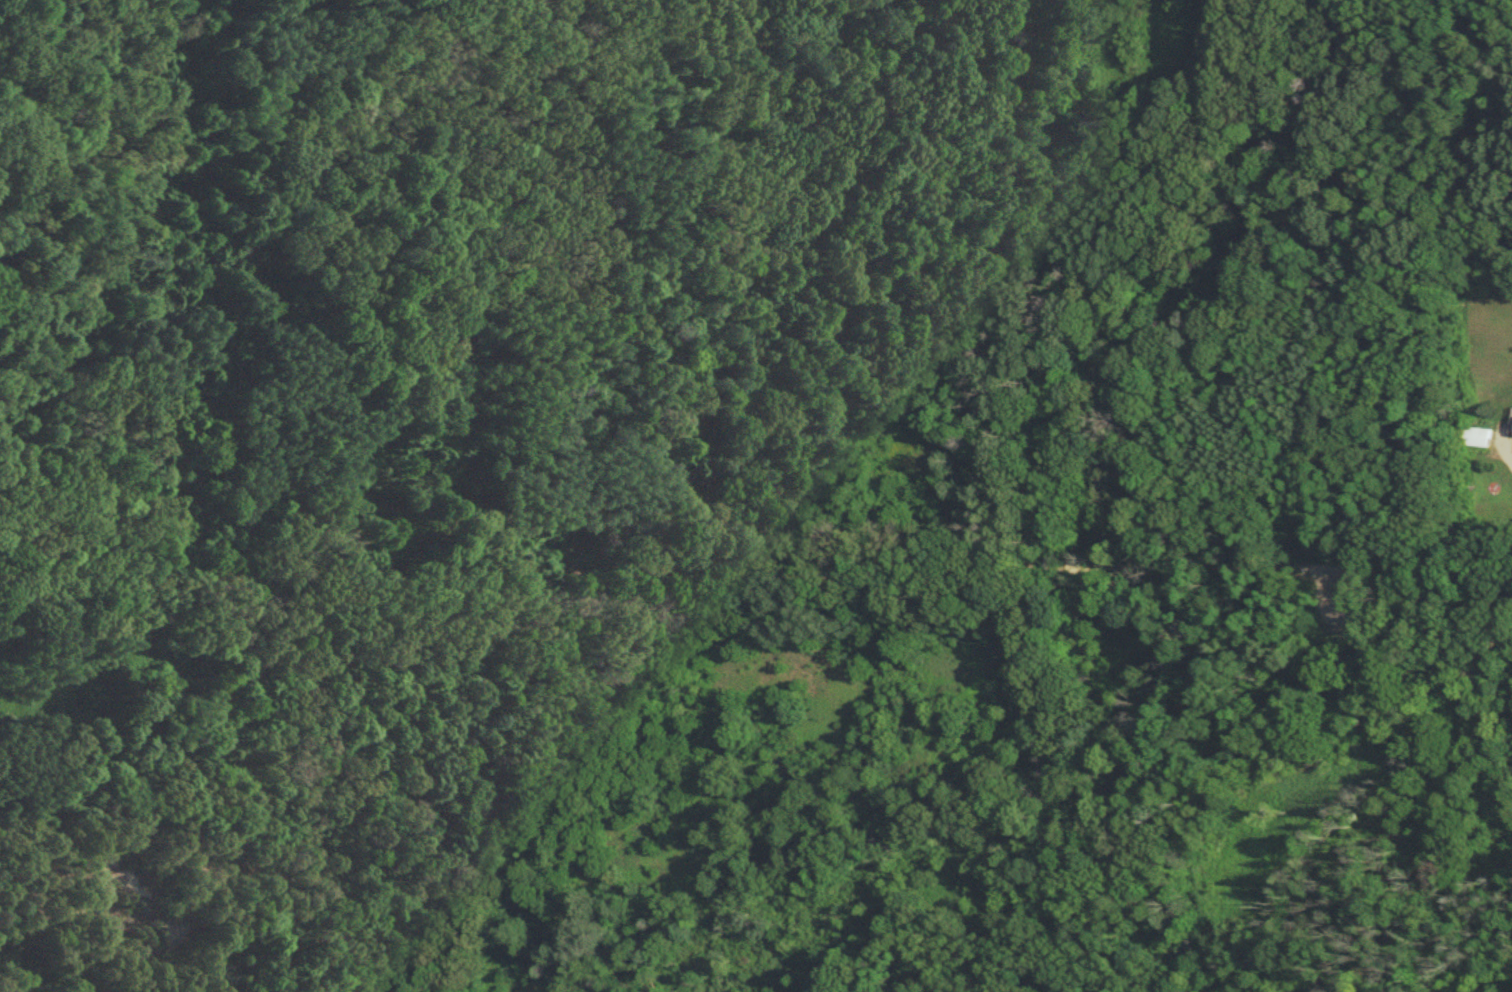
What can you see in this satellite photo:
building: (1476, 437)
road: (1507, 446)
road: (755, 568)

